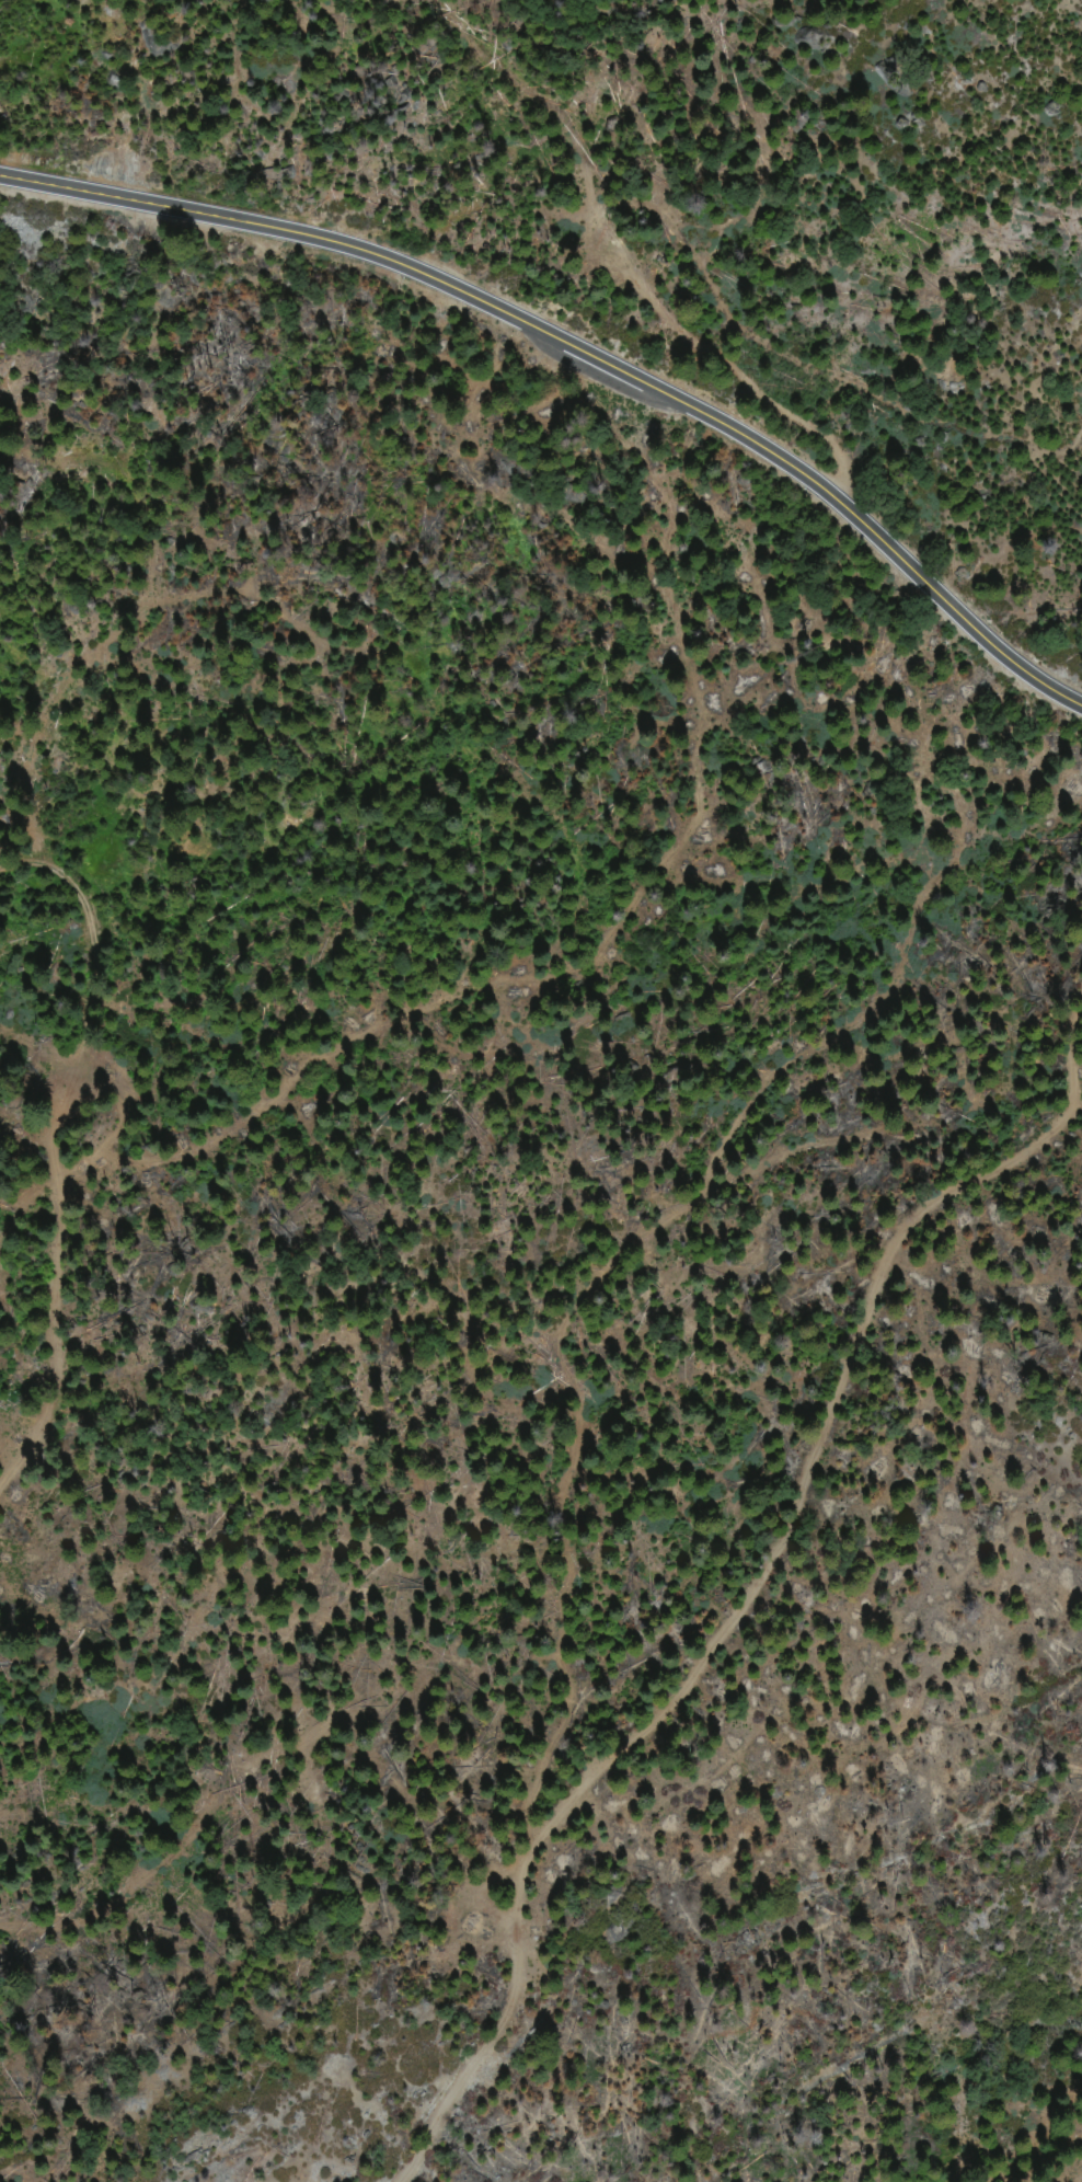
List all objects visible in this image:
road: (582, 355)
road: (58, 1151)
road: (759, 1594)

